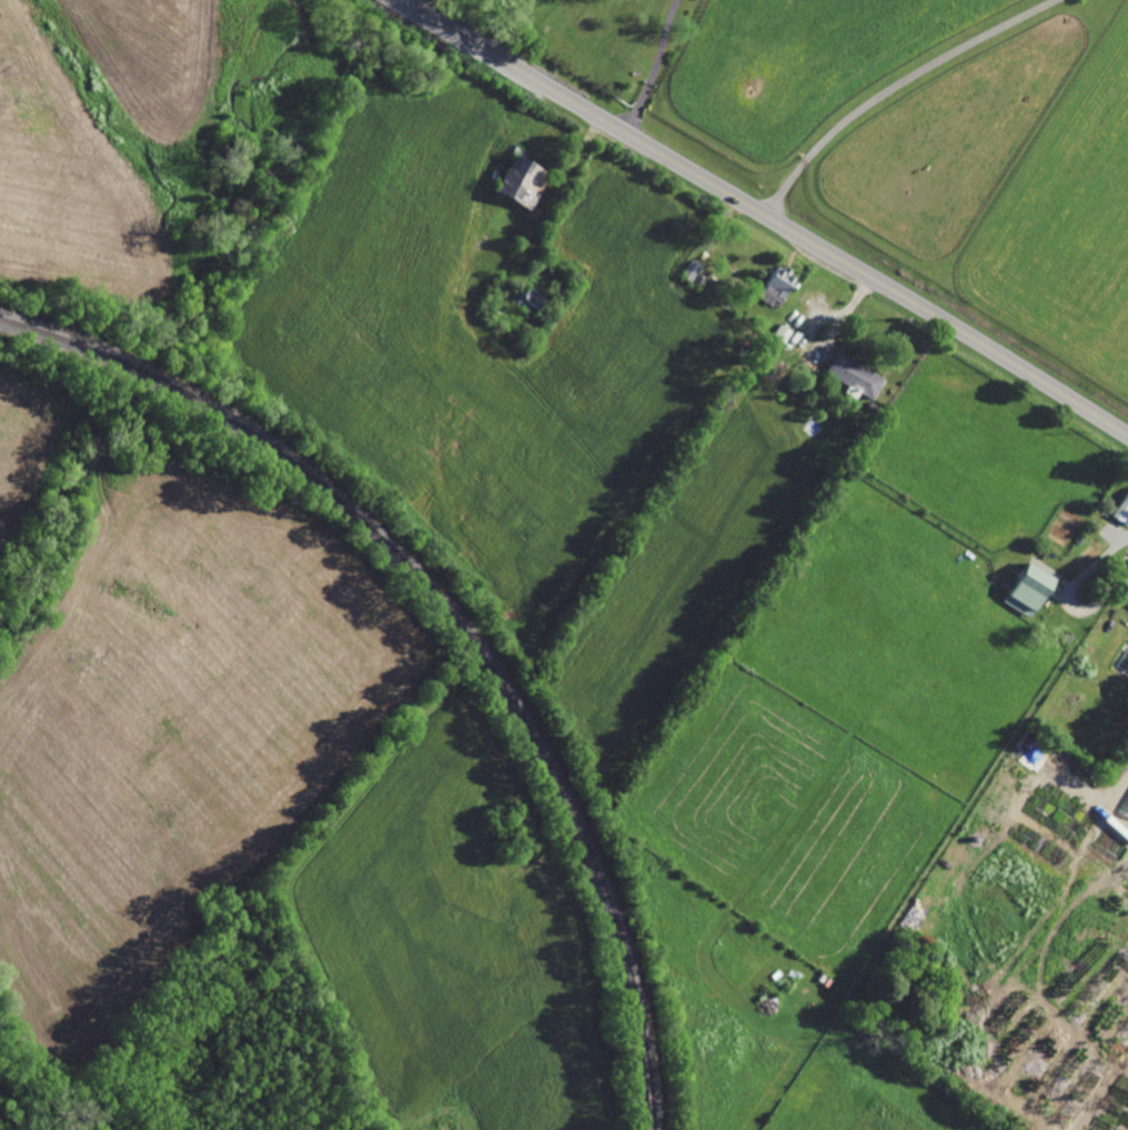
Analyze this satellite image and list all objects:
building: (628, 64)
road: (654, 68)
road: (890, 87)
building: (523, 181)
road: (764, 213)
building: (689, 268)
building: (716, 277)
building: (697, 279)
building: (775, 282)
building: (532, 294)
building: (482, 309)
building: (780, 331)
building: (854, 374)
building: (872, 404)
building: (848, 434)
building: (1121, 509)
building: (1026, 588)
building: (1127, 604)
railway: (455, 620)
building: (1066, 636)

